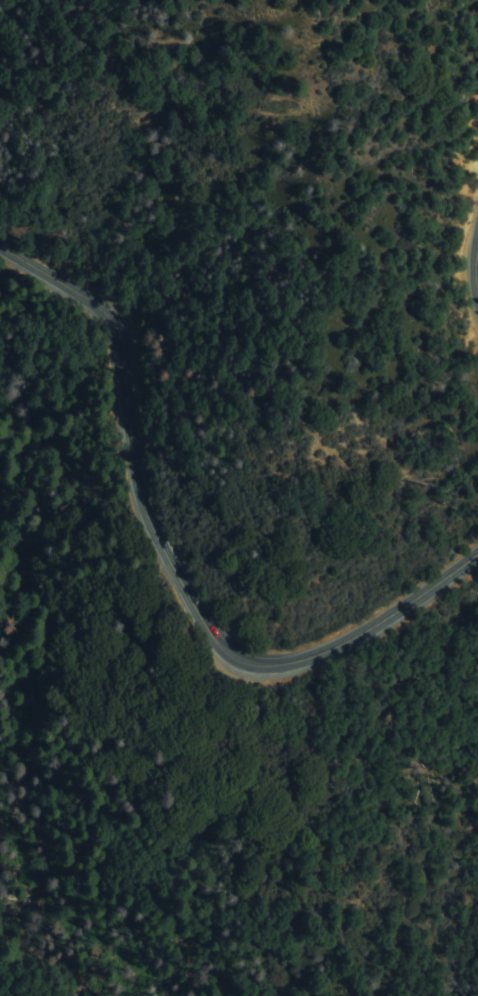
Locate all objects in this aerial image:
road: (171, 570)

